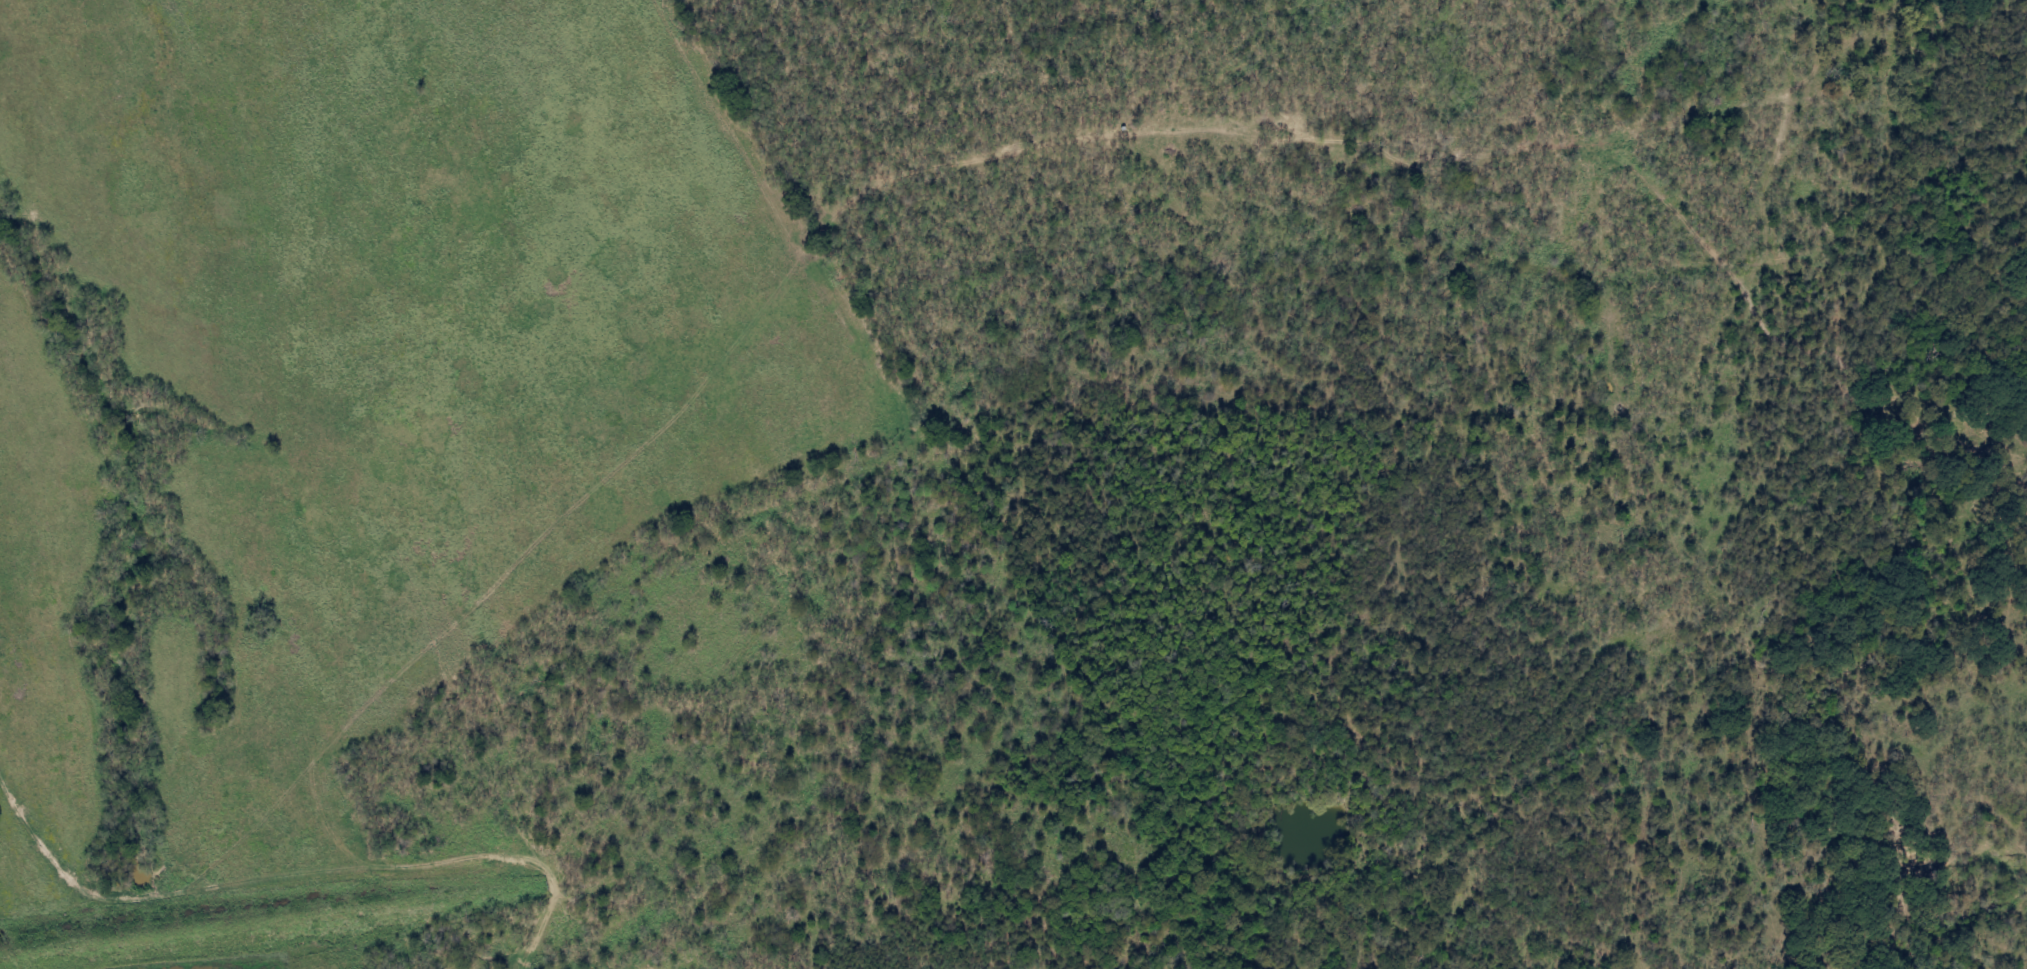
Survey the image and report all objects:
road: (512, 856)
dam: (267, 920)

